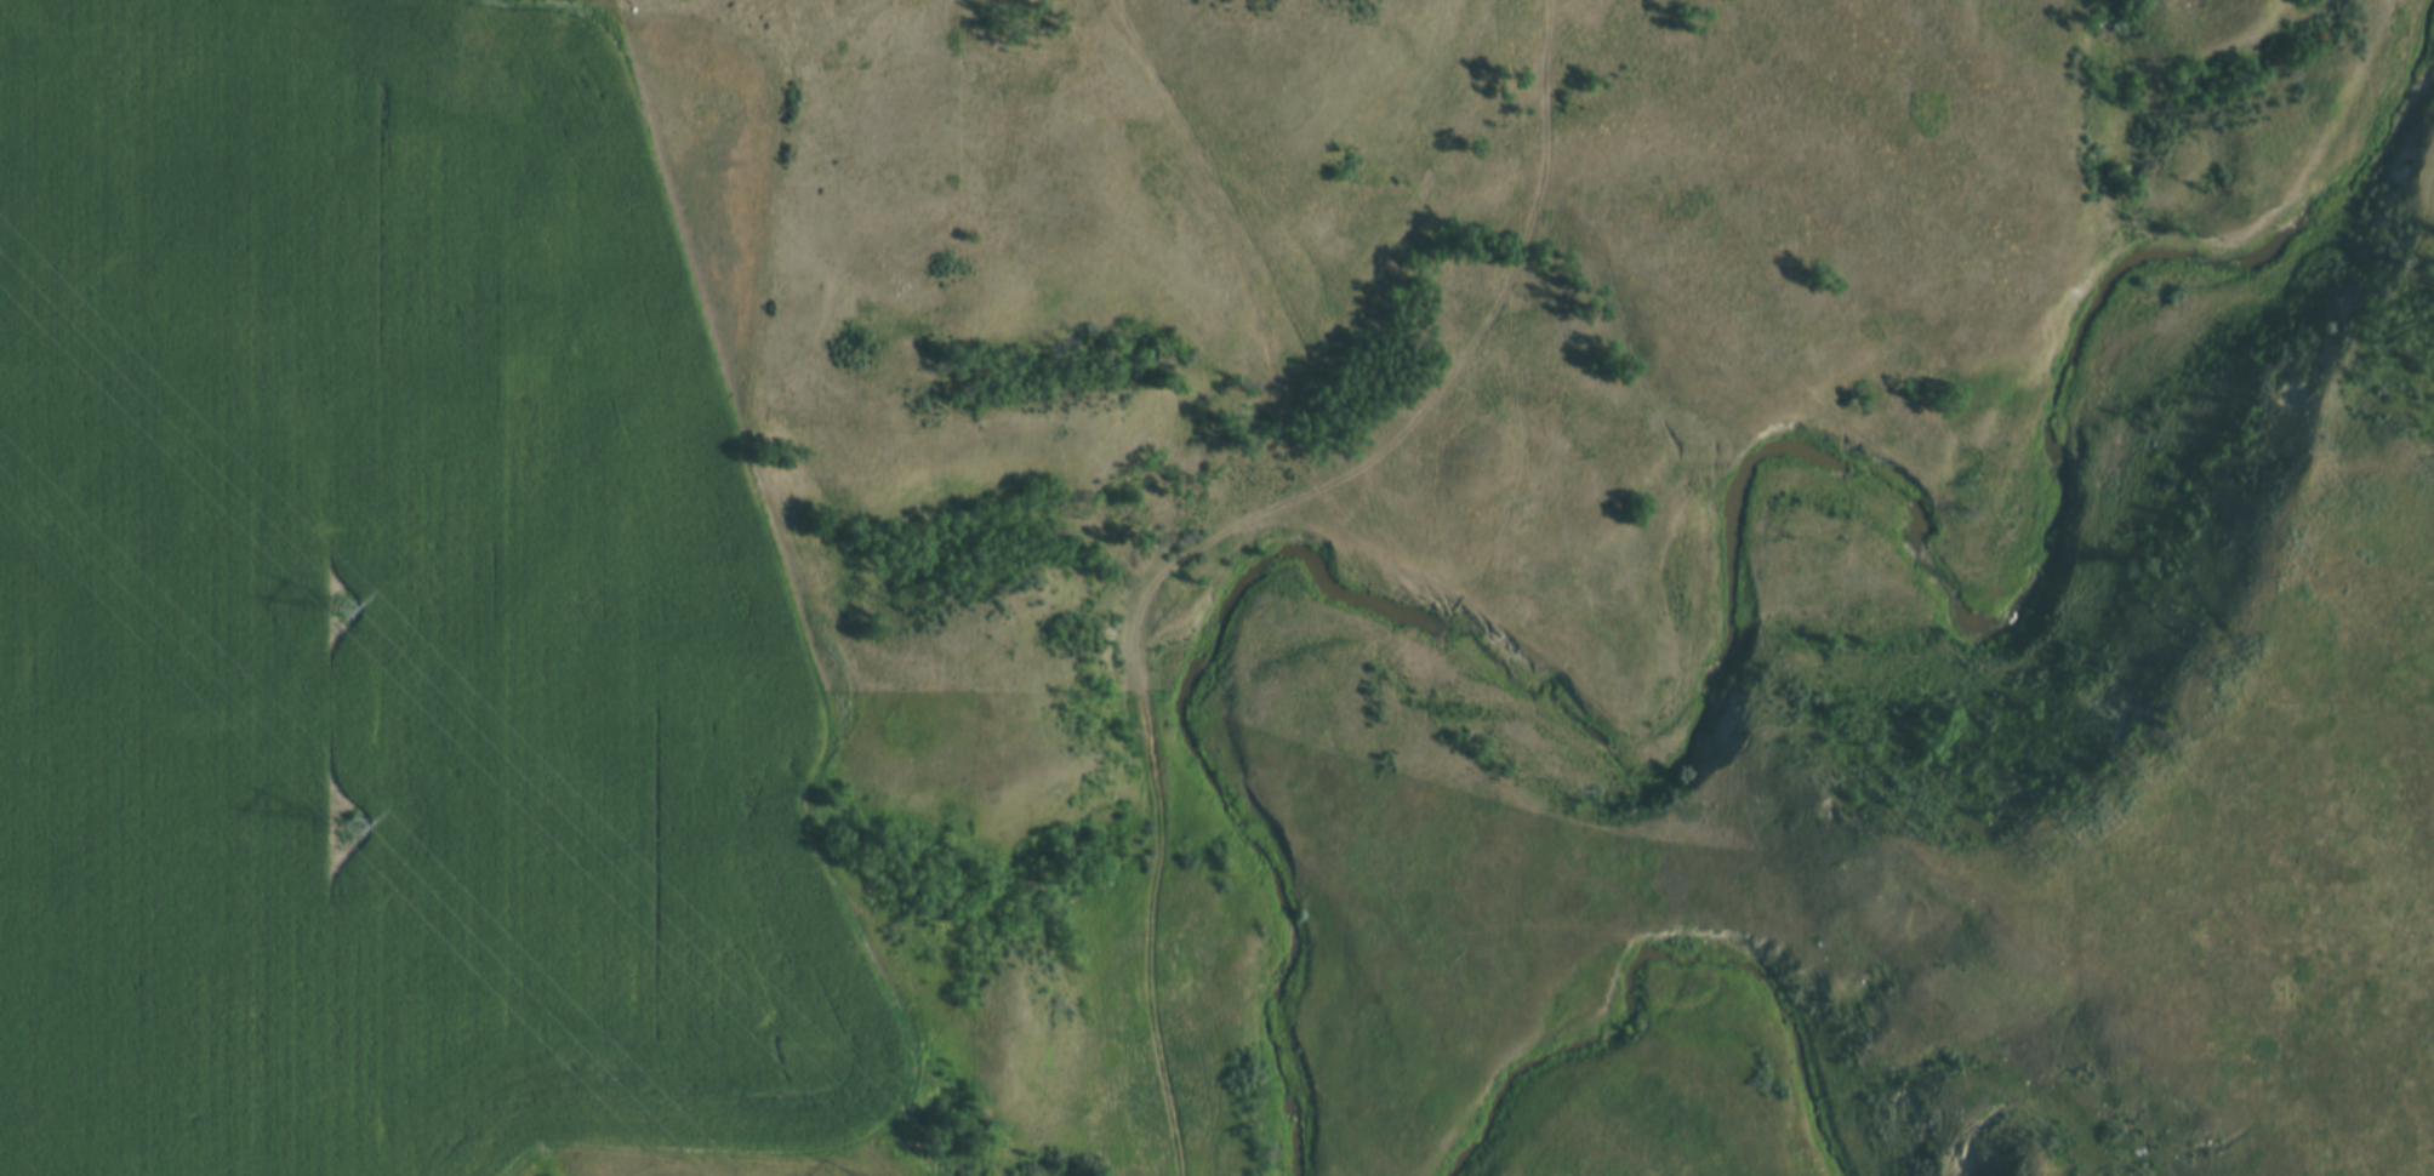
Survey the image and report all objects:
road: (1225, 541)
power tower: (331, 609)
power tower: (346, 837)

